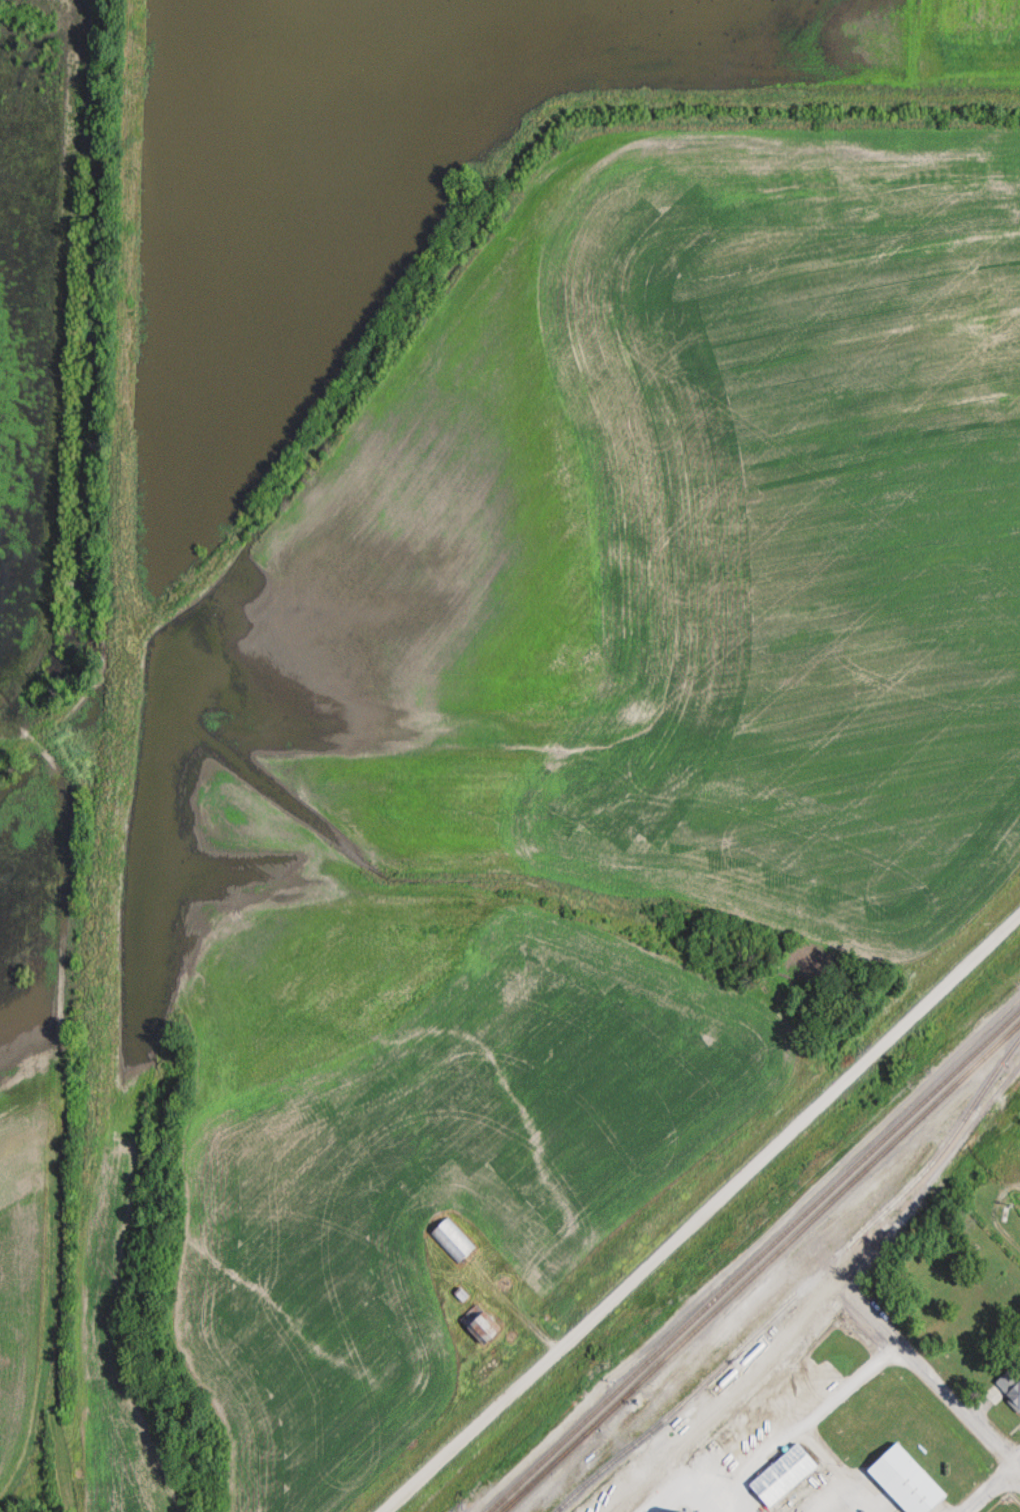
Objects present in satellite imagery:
road: (56, 371)
road: (44, 744)
road: (61, 1103)
road: (702, 1212)
railway: (807, 1225)
building: (454, 1241)
railway: (754, 1261)
railway: (803, 1288)
railway: (841, 1292)
road: (514, 1304)
building: (484, 1324)
road: (936, 1377)
building: (1011, 1387)
building: (762, 1416)
railway: (545, 1469)
railway: (548, 1469)
building: (787, 1474)
building: (910, 1480)
road: (990, 1489)

